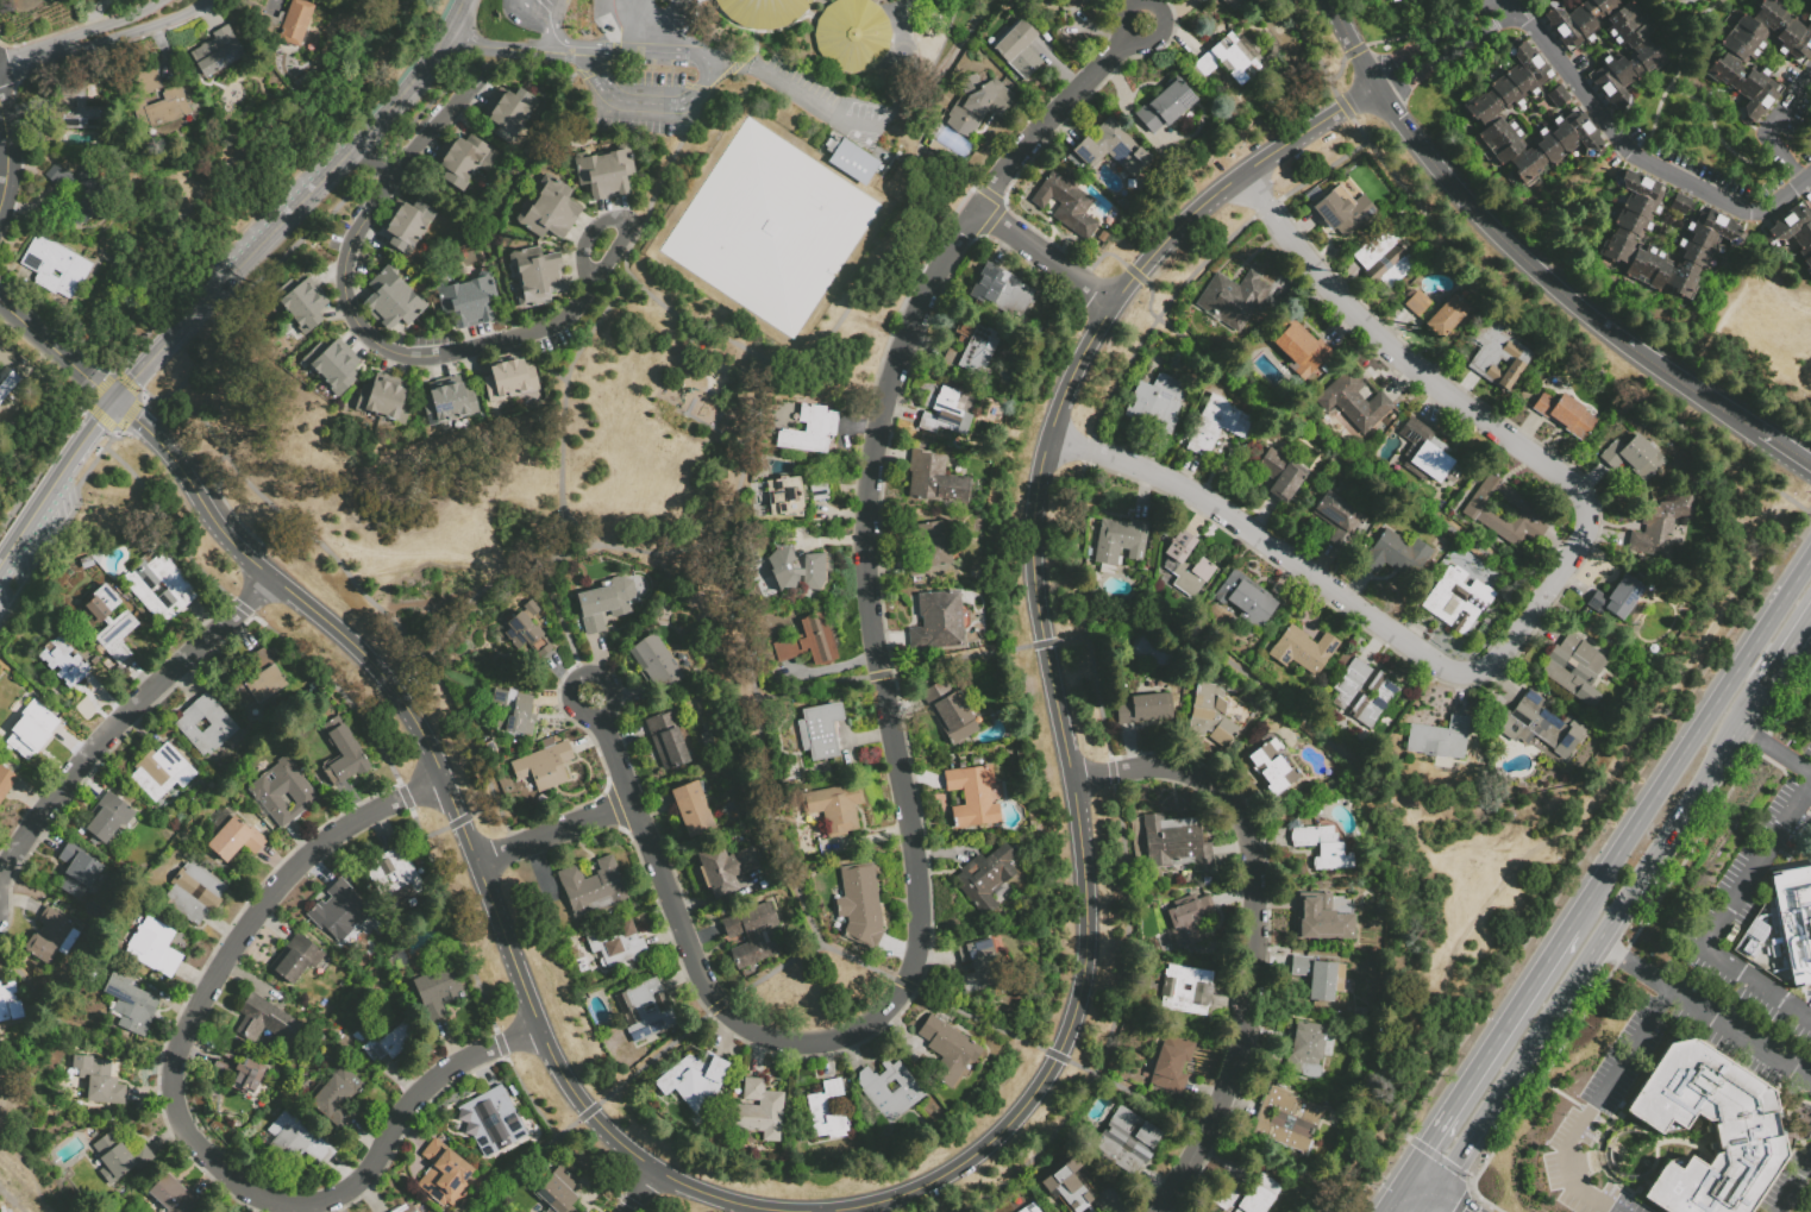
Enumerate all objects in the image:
flagpole: (659, 0)
building: (1208, 0)
building: (1391, 0)
building: (1074, 5)
building: (1233, 5)
road: (554, 12)
building: (762, 12)
road: (529, 14)
road: (459, 17)
road: (560, 18)
road: (657, 21)
road: (113, 23)
building: (287, 24)
road: (136, 26)
road: (409, 27)
building: (851, 34)
road: (652, 37)
road: (554, 38)
road: (584, 38)
road: (1442, 43)
road: (505, 46)
road: (384, 49)
road: (614, 49)
building: (1017, 49)
road: (1142, 49)
building: (1271, 49)
road: (587, 52)
building: (217, 54)
road: (671, 54)
road: (32, 57)
building: (1647, 57)
building: (1229, 58)
building: (1728, 63)
road: (594, 67)
road: (607, 77)
road: (1118, 82)
road: (706, 84)
road: (406, 89)
road: (801, 93)
road: (1380, 94)
building: (1558, 98)
building: (157, 101)
building: (976, 103)
building: (1165, 105)
road: (650, 107)
building: (75, 113)
building: (1481, 113)
building: (509, 114)
road: (1771, 126)
road: (895, 133)
road: (245, 137)
building: (1111, 149)
building: (938, 151)
road: (6, 155)
road: (1635, 156)
road: (378, 157)
building: (853, 161)
building: (460, 162)
building: (604, 171)
building: (70, 195)
building: (1066, 202)
building: (1680, 206)
building: (1343, 211)
building: (550, 212)
building: (407, 226)
building: (769, 228)
building: (1716, 234)
building: (1794, 234)
road: (1046, 250)
building: (1385, 259)
building: (56, 268)
road: (237, 270)
building: (538, 277)
road: (163, 278)
building: (1001, 290)
road: (251, 294)
building: (1233, 299)
building: (393, 301)
building: (468, 301)
building: (1416, 302)
building: (301, 304)
road: (1518, 304)
building: (1448, 315)
road: (1592, 319)
road: (591, 331)
road: (710, 334)
building: (971, 346)
road: (57, 351)
building: (1302, 351)
building: (1496, 354)
road: (425, 356)
road: (540, 363)
building: (332, 366)
traffic signals: (136, 378)
building: (508, 379)
traffic signals: (94, 383)
building: (384, 401)
building: (1353, 401)
building: (1159, 402)
building: (449, 403)
road: (84, 410)
building: (944, 413)
building: (1565, 414)
traffic signals: (138, 420)
traffic signals: (96, 425)
building: (1216, 425)
building: (809, 431)
road: (769, 435)
road: (1785, 450)
building: (1429, 452)
building: (1633, 456)
building: (1279, 475)
road: (55, 479)
building: (933, 479)
road: (1385, 486)
building: (819, 490)
building: (784, 496)
building: (1503, 510)
building: (1339, 520)
building: (1660, 527)
road: (831, 540)
building: (1118, 541)
building: (935, 545)
building: (1398, 554)
building: (1185, 564)
building: (783, 570)
building: (814, 570)
road: (352, 588)
building: (161, 590)
road: (451, 595)
road: (1540, 595)
building: (1458, 599)
building: (1619, 599)
building: (1247, 601)
building: (606, 602)
building: (532, 609)
road: (562, 617)
building: (938, 621)
building: (109, 626)
building: (526, 638)
building: (808, 642)
road: (1203, 643)
building: (1302, 648)
building: (1149, 649)
road: (600, 652)
road: (1787, 653)
building: (1343, 660)
building: (657, 662)
building: (64, 664)
road: (558, 666)
road: (833, 668)
building: (1574, 668)
road: (607, 677)
building: (258, 683)
building: (1365, 692)
road: (629, 693)
road: (553, 701)
building: (1145, 708)
building: (950, 712)
building: (513, 715)
building: (1210, 715)
road: (121, 721)
building: (1541, 724)
building: (206, 727)
building: (819, 729)
building: (31, 731)
road: (1686, 734)
building: (1440, 739)
building: (481, 740)
building: (666, 740)
road: (895, 740)
road: (759, 741)
road: (1775, 749)
building: (343, 756)
building: (976, 761)
building: (544, 767)
building: (1268, 767)
building: (162, 773)
building: (6, 783)
building: (282, 793)
building: (972, 795)
building: (834, 806)
building: (693, 808)
road: (409, 809)
road: (457, 819)
building: (107, 821)
road: (552, 828)
building: (232, 837)
road: (1548, 841)
building: (1176, 842)
building: (1322, 846)
building: (759, 854)
building: (723, 868)
building: (77, 872)
building: (985, 877)
building: (394, 878)
building: (364, 884)
building: (593, 887)
building: (194, 894)
building: (859, 905)
building: (337, 913)
building: (1190, 918)
building: (1322, 919)
road: (1722, 919)
building: (1794, 919)
road: (1640, 925)
building: (1756, 930)
road: (1252, 931)
building: (751, 934)
building: (51, 938)
road: (1597, 940)
building: (618, 943)
building: (155, 949)
building: (296, 960)
building: (391, 963)
road: (1633, 965)
building: (979, 966)
road: (883, 975)
building: (1318, 975)
building: (1188, 988)
building: (437, 991)
building: (7, 1005)
building: (131, 1006)
building: (644, 1010)
building: (1360, 1013)
building: (942, 1016)
road: (71, 1021)
building: (264, 1023)
road: (1740, 1035)
building: (357, 1038)
building: (390, 1043)
road: (1483, 1048)
building: (947, 1049)
building: (1305, 1049)
building: (1172, 1065)
building: (240, 1073)
building: (693, 1079)
building: (99, 1082)
building: (889, 1091)
building: (336, 1097)
road: (1593, 1104)
building: (758, 1111)
building: (826, 1111)
building: (1286, 1118)
road: (177, 1119)
building: (493, 1123)
building: (1746, 1125)
building: (1127, 1141)
building: (296, 1142)
traffic signals: (1422, 1143)
road: (1032, 1155)
building: (119, 1158)
road: (954, 1167)
building: (444, 1176)
road: (1417, 1181)
road: (1793, 1185)
building: (1070, 1186)
road: (637, 1191)
road: (1389, 1192)
building: (558, 1193)
building: (174, 1197)
building: (1258, 1197)
road: (13, 1199)
building: (1228, 1199)
road: (1462, 1199)
road: (1447, 1200)
road: (1424, 1201)
road: (1485, 1201)
building: (1029, 1208)
building: (406, 1210)
traffic signals: (1462, 1211)

